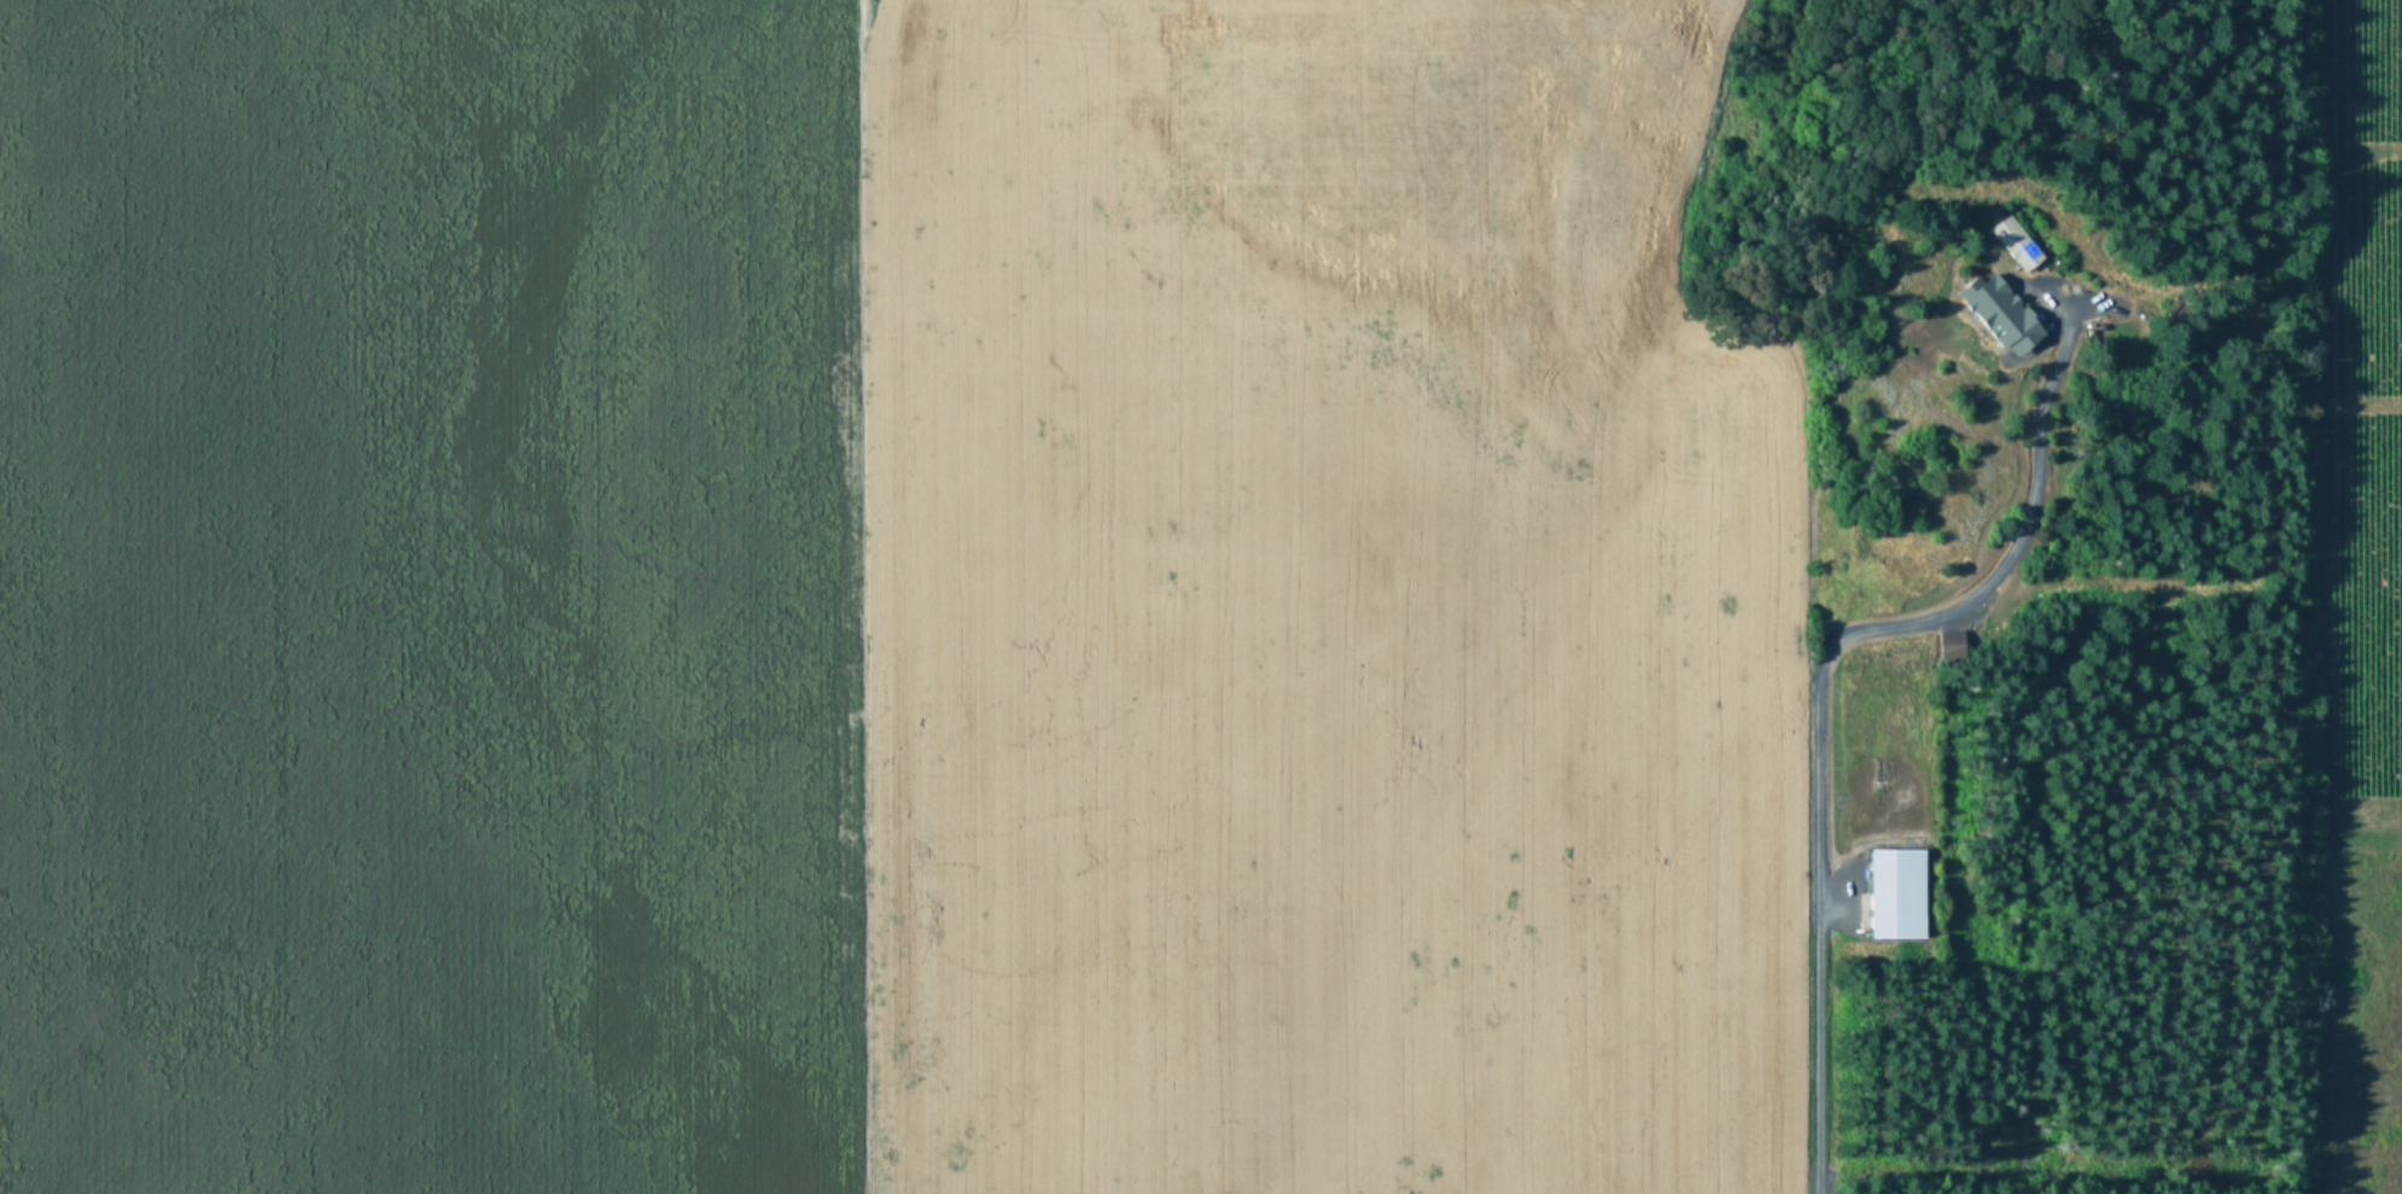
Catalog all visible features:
building: (2017, 239)
building: (2001, 308)
crop: (881, 602)
building: (1952, 640)
road: (1812, 680)
building: (1897, 889)

